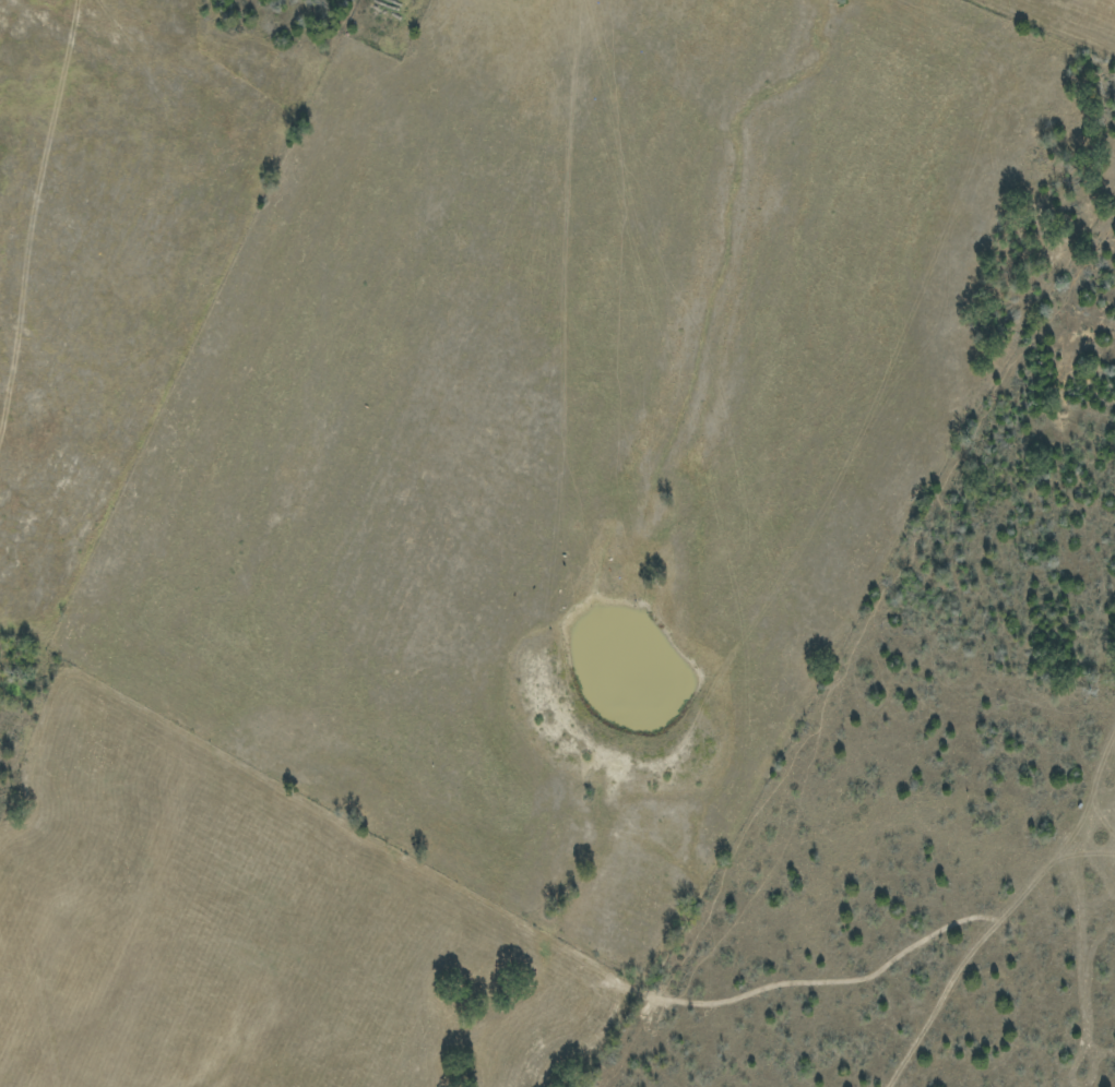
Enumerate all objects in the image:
road: (985, 858)

